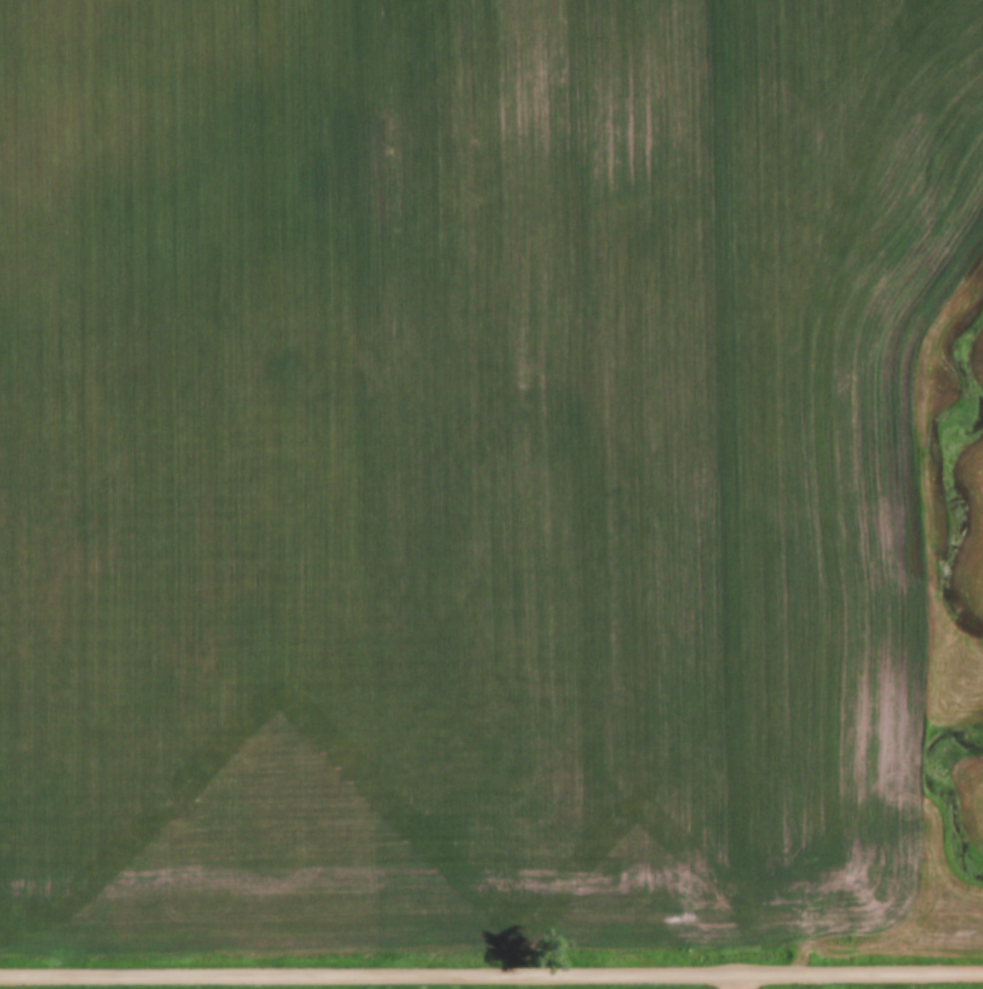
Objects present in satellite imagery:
road: (491, 977)
road: (806, 980)

